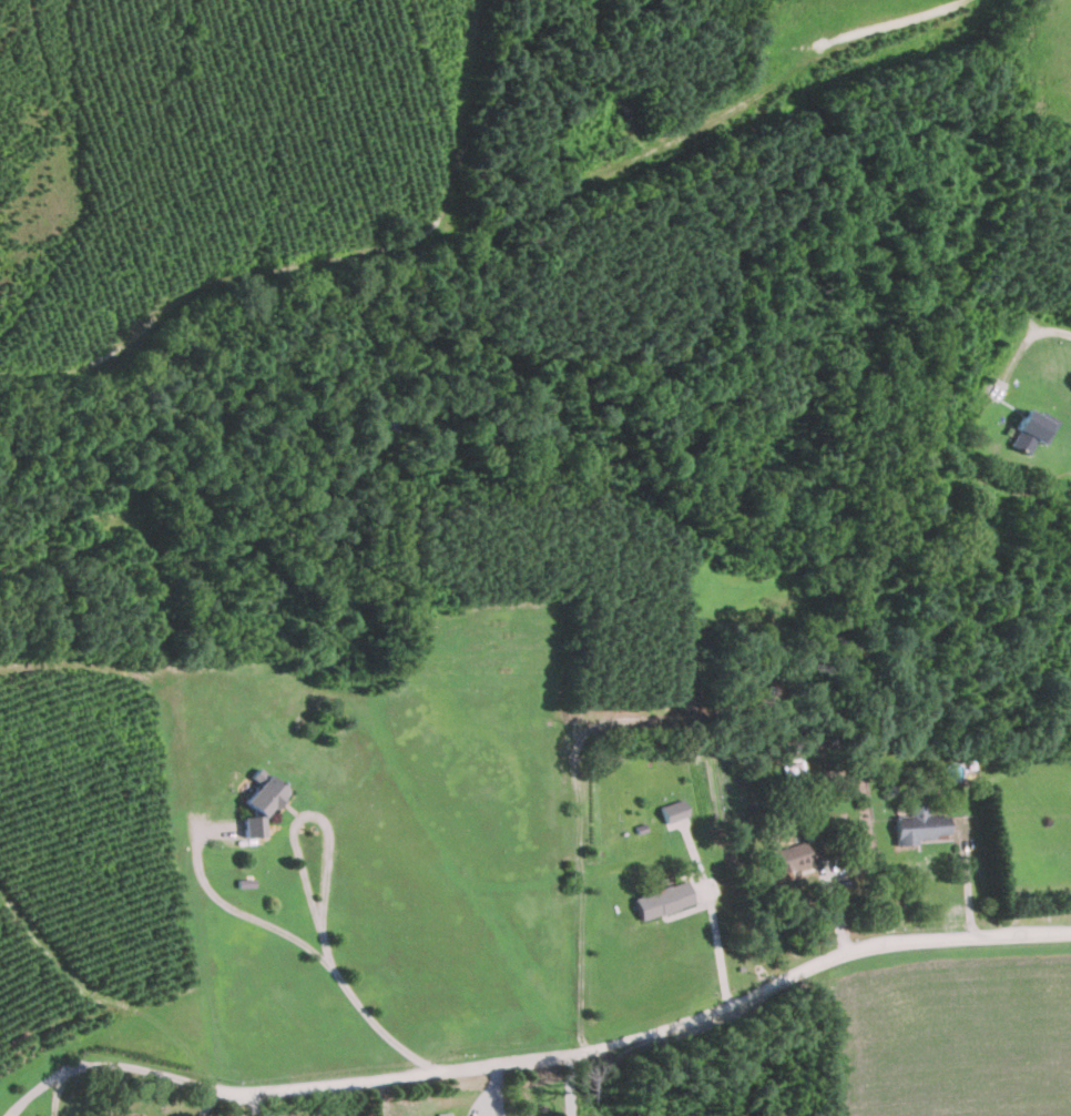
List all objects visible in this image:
road: (1063, 327)
building: (1027, 428)
building: (792, 762)
building: (258, 801)
building: (672, 815)
building: (917, 824)
road: (324, 834)
building: (786, 856)
building: (661, 900)
road: (252, 929)
road: (713, 943)
road: (367, 1022)
road: (664, 1027)
road: (122, 1073)
building: (443, 1114)
building: (135, 1115)

